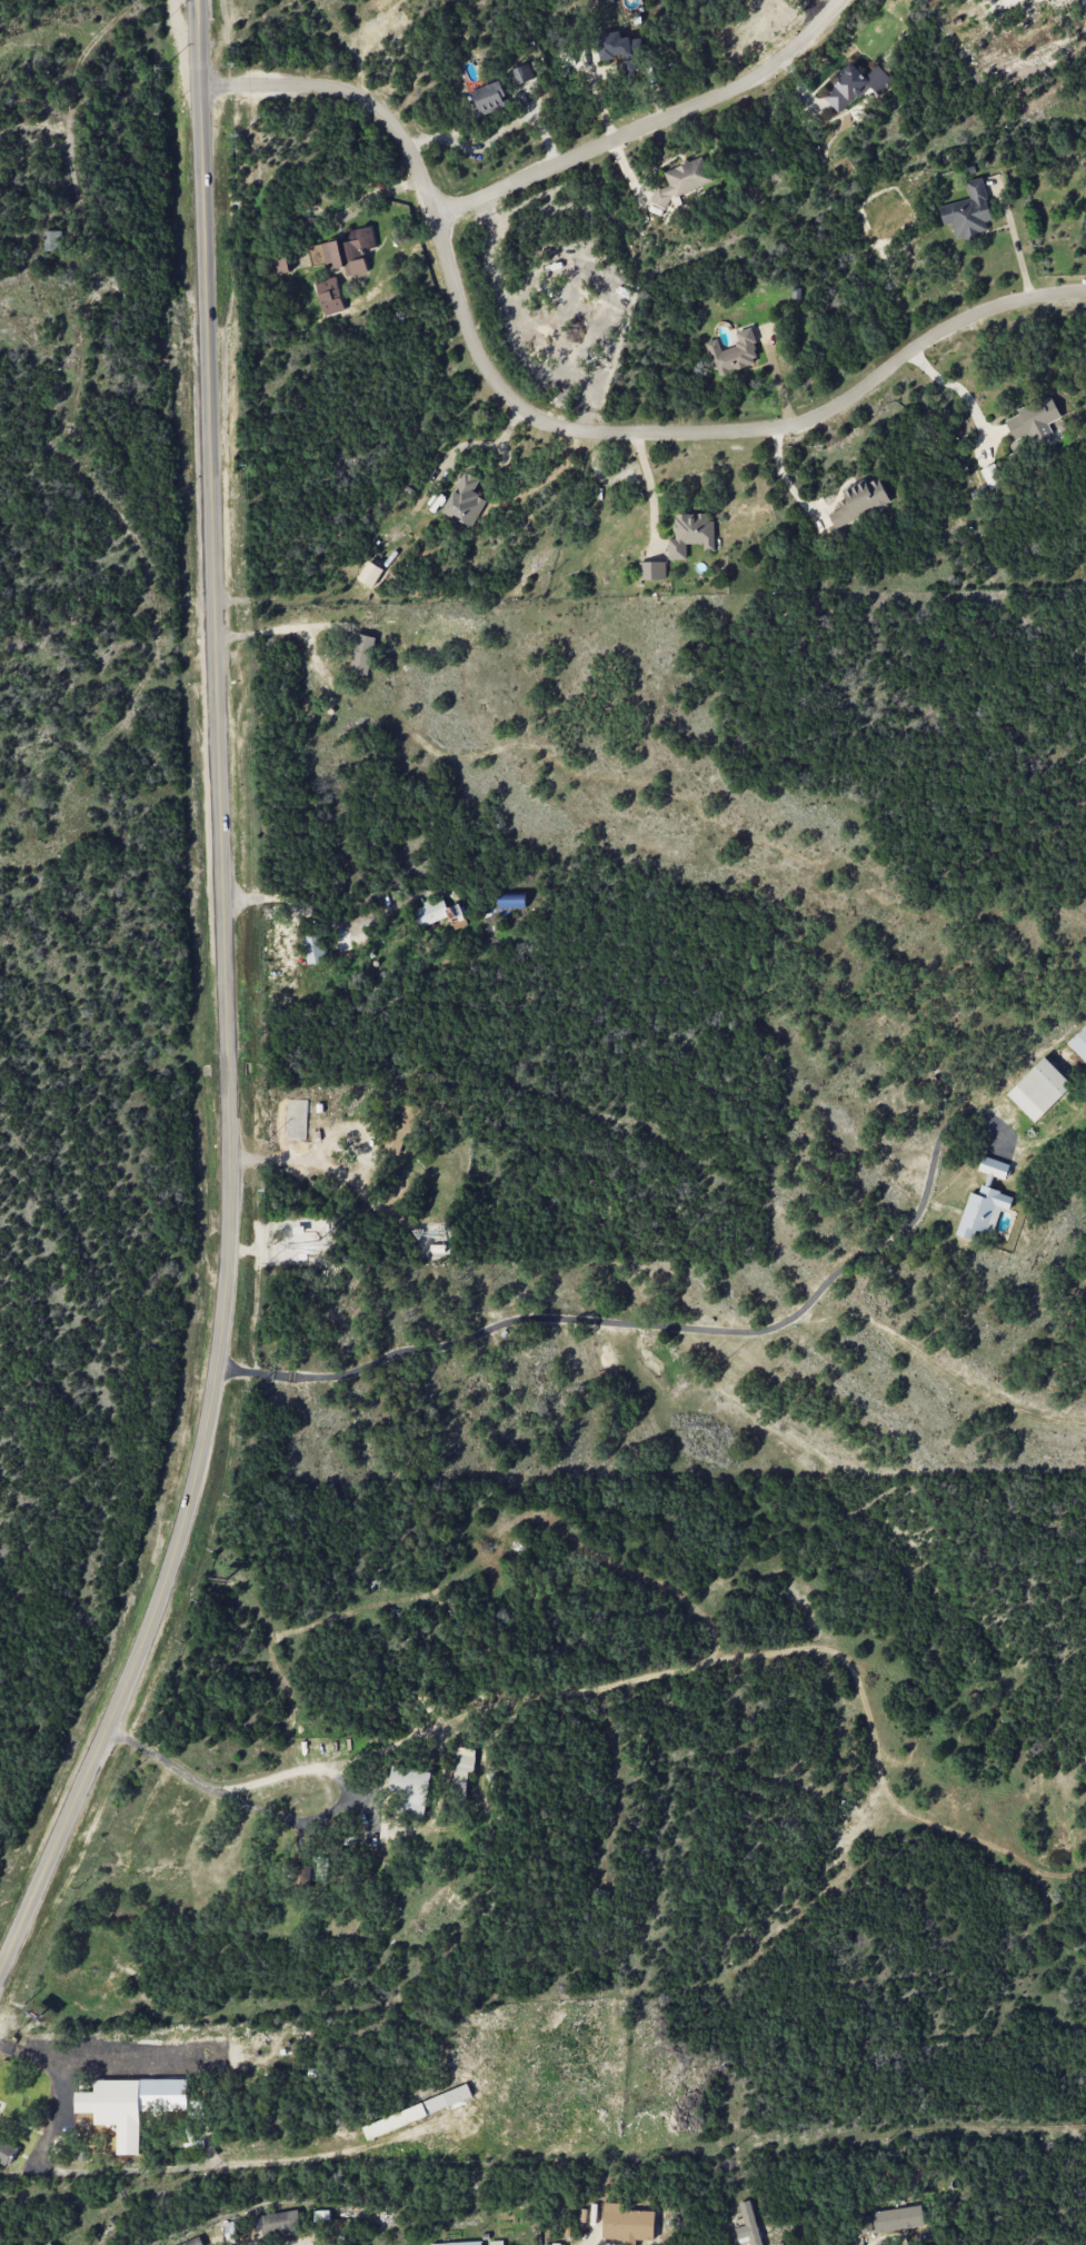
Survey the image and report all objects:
building: (984, 0)
road: (815, 11)
building: (614, 47)
building: (630, 67)
building: (521, 73)
building: (855, 86)
building: (489, 98)
road: (650, 125)
building: (683, 180)
road: (376, 197)
building: (967, 211)
building: (1085, 222)
building: (52, 240)
road: (1014, 240)
building: (343, 251)
building: (279, 262)
building: (329, 296)
building: (734, 354)
road: (955, 386)
building: (1035, 421)
road: (556, 425)
building: (992, 477)
building: (465, 500)
building: (859, 501)
building: (690, 534)
building: (651, 570)
building: (370, 574)
road: (282, 629)
building: (361, 653)
building: (511, 901)
road: (293, 902)
building: (440, 913)
building: (313, 947)
road: (227, 1007)
building: (1078, 1043)
building: (1038, 1089)
building: (399, 1128)
building: (993, 1166)
road: (335, 1169)
building: (982, 1211)
road: (660, 1325)
road: (309, 1768)
building: (462, 1768)
building: (410, 1788)
road: (219, 1795)
building: (301, 1874)
building: (162, 2088)
building: (114, 2109)
building: (416, 2112)
building: (7, 2152)
road: (118, 2169)
building: (320, 2216)
building: (888, 2219)
building: (280, 2222)
building: (627, 2224)
building: (747, 2224)
building: (192, 2242)
building: (48, 2243)
building: (458, 2243)

